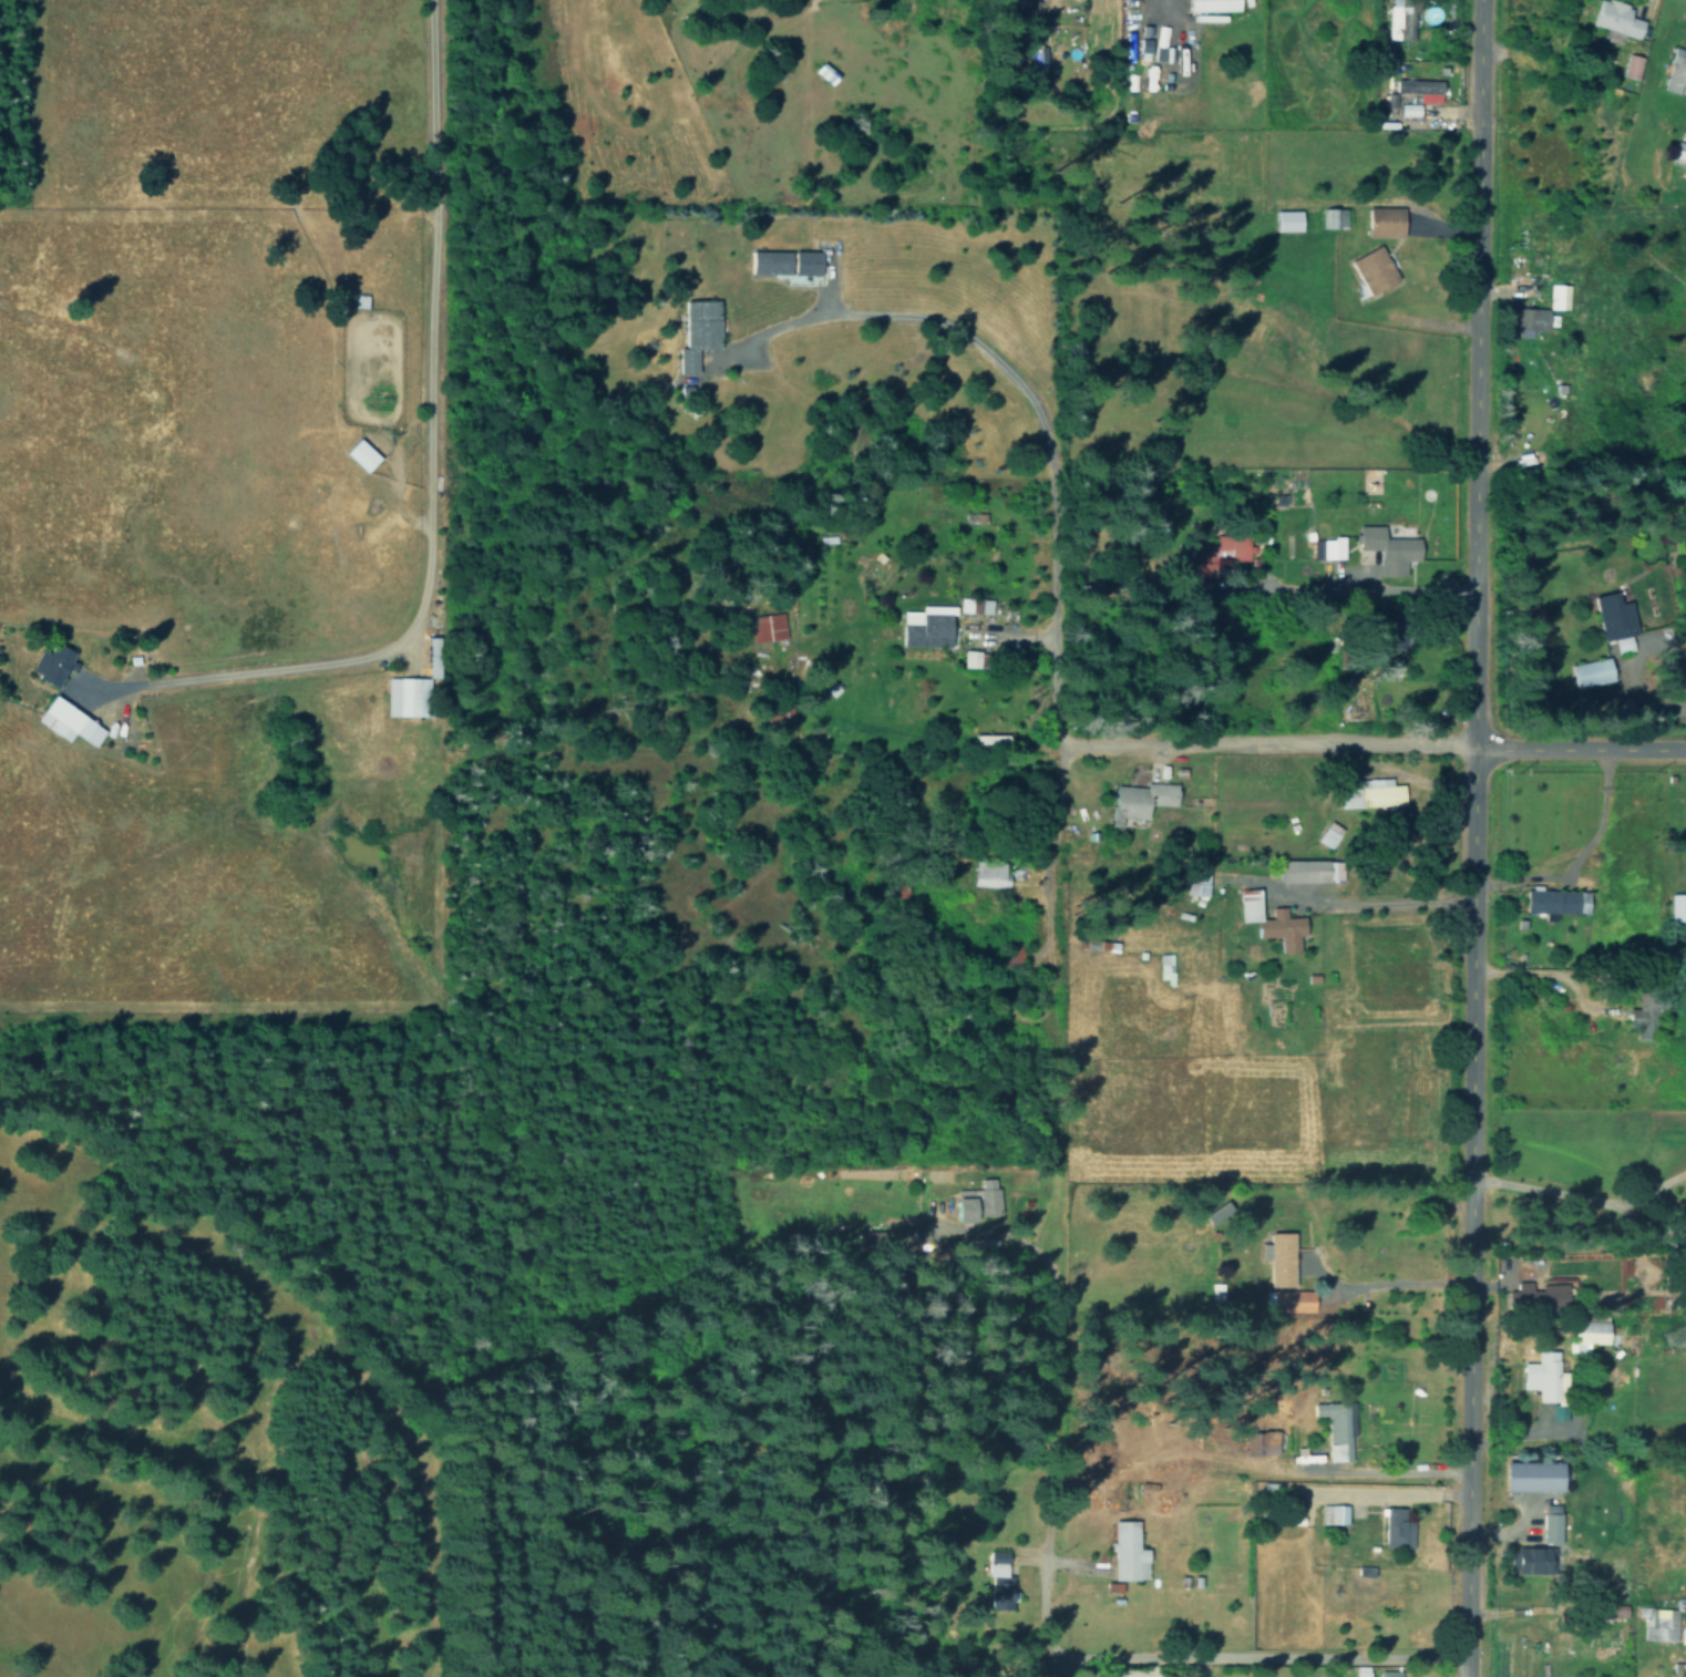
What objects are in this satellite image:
building: (1210, 4)
building: (1399, 19)
building: (1614, 20)
building: (1144, 48)
building: (1631, 66)
building: (1675, 70)
building: (1419, 89)
building: (1406, 109)
building: (1678, 153)
building: (1330, 217)
building: (1284, 220)
building: (1382, 220)
building: (780, 263)
building: (1370, 269)
building: (1558, 296)
building: (1531, 321)
building: (705, 341)
road: (998, 360)
building: (358, 454)
crop: (215, 505)
building: (1326, 548)
building: (1224, 549)
building: (1386, 549)
building: (874, 557)
road: (1363, 586)
building: (971, 605)
building: (1613, 620)
building: (763, 626)
road: (997, 629)
building: (923, 630)
building: (965, 658)
building: (50, 665)
road: (1623, 669)
building: (1589, 672)
building: (403, 695)
building: (64, 722)
building: (987, 740)
road: (1202, 744)
road: (1581, 749)
building: (1376, 793)
building: (1138, 800)
building: (1327, 834)
road: (1476, 838)
road: (1573, 845)
road: (1048, 846)
crop: (1625, 857)
building: (987, 874)
building: (1297, 886)
building: (1552, 898)
building: (1247, 905)
building: (1676, 905)
building: (1279, 929)
road: (1580, 973)
building: (1621, 981)
building: (1647, 1017)
crop: (1269, 1066)
road: (1583, 1197)
building: (971, 1201)
building: (1279, 1267)
road: (1381, 1284)
building: (1536, 1294)
building: (1585, 1334)
building: (1541, 1375)
road: (1042, 1400)
building: (1337, 1430)
building: (1529, 1475)
building: (1332, 1514)
building: (1549, 1523)
building: (1395, 1527)
building: (1124, 1553)
building: (1530, 1560)
building: (996, 1580)
building: (1658, 1623)
road: (1244, 1657)
building: (1359, 1670)
building: (1388, 1674)

